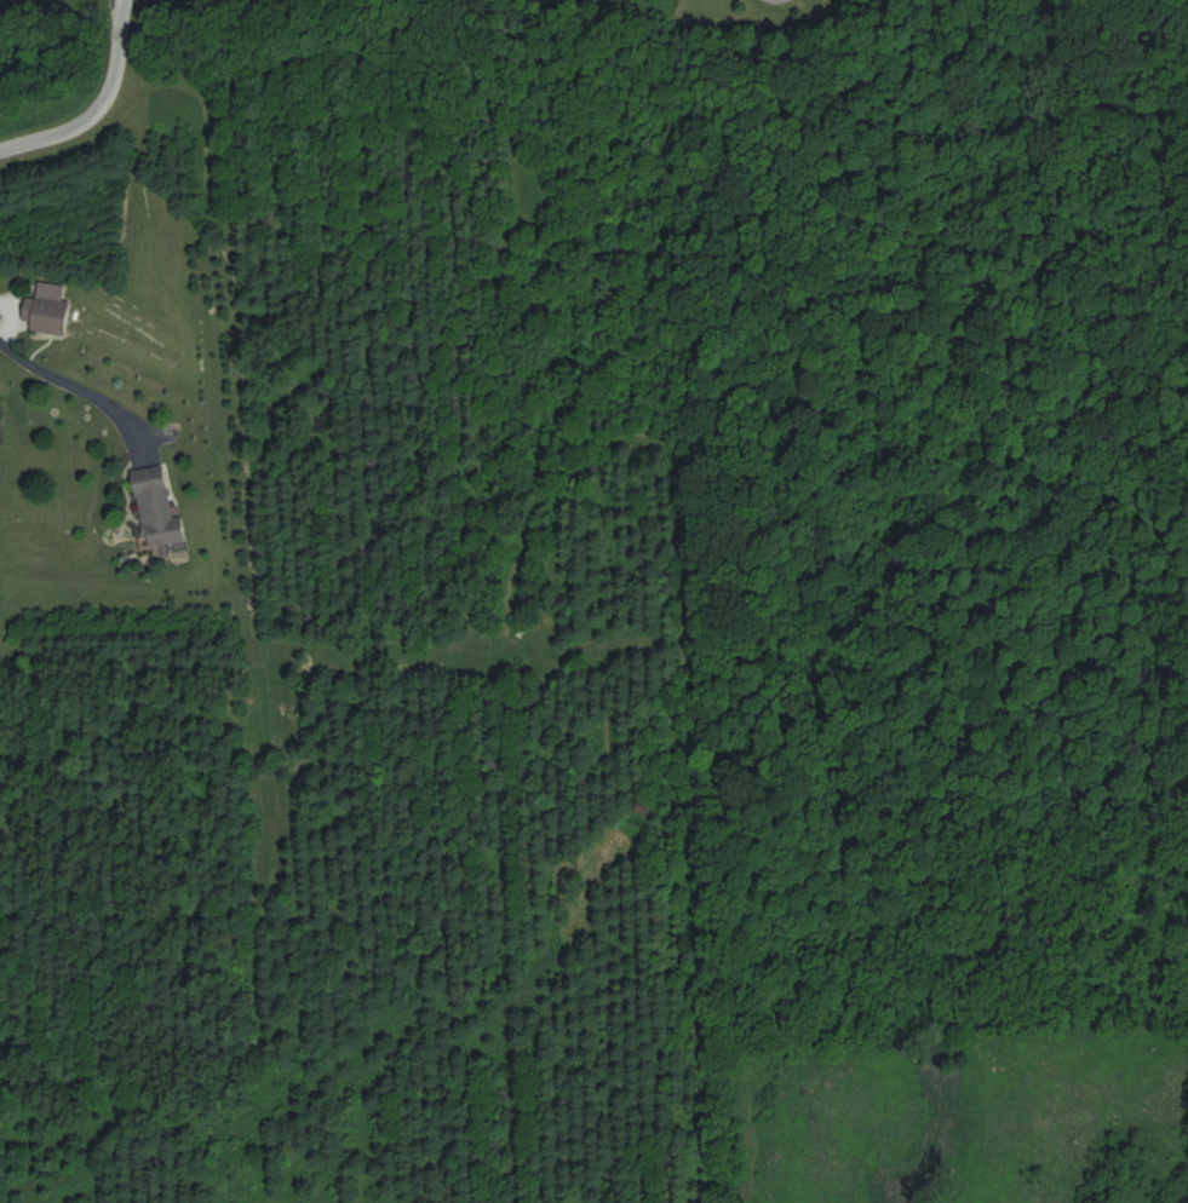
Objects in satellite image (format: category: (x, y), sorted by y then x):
road: (96, 100)
building: (47, 309)
road: (86, 386)
building: (156, 507)

